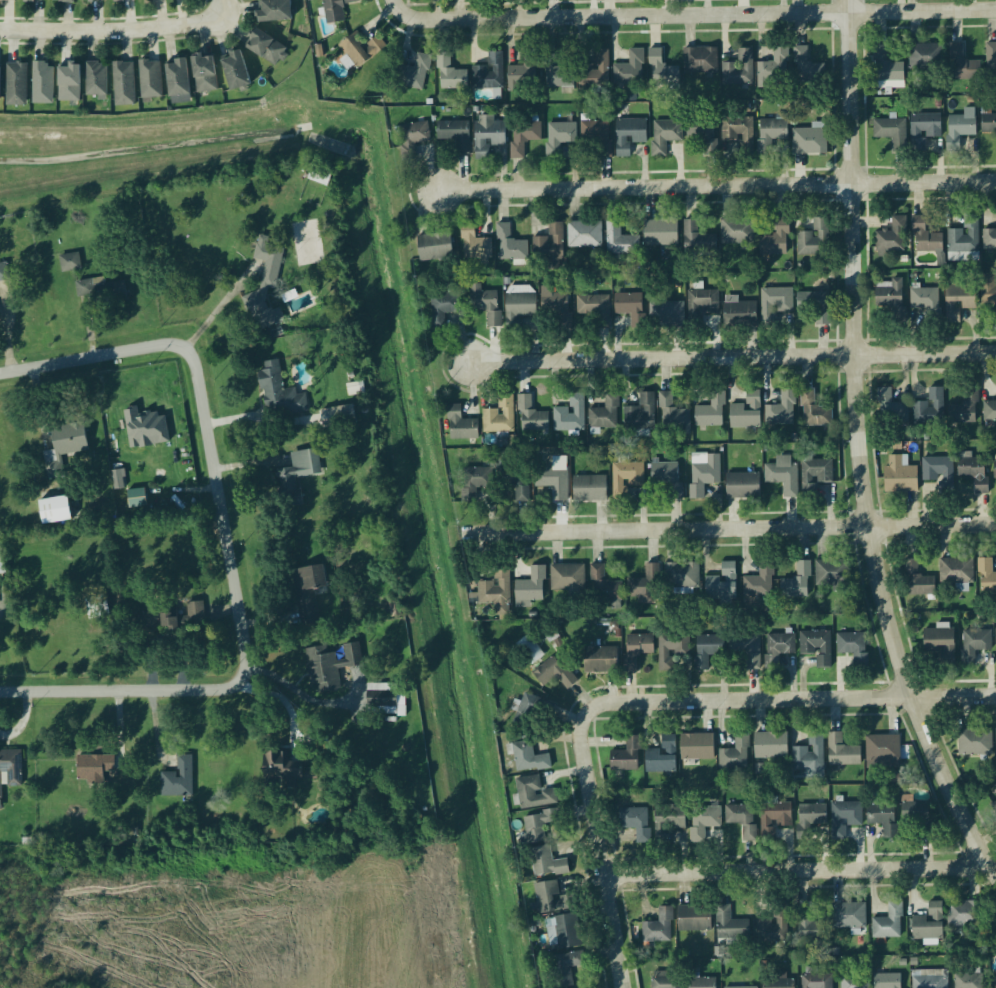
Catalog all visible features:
building: (7, 0)
building: (91, 0)
building: (149, 0)
building: (32, 1)
building: (62, 1)
building: (121, 1)
road: (398, 6)
road: (222, 9)
building: (335, 10)
building: (273, 11)
road: (698, 14)
road: (112, 31)
building: (265, 49)
building: (355, 51)
building: (925, 57)
building: (700, 61)
building: (990, 61)
building: (963, 66)
building: (807, 68)
building: (774, 69)
building: (595, 70)
building: (629, 70)
building: (739, 70)
building: (887, 70)
building: (660, 71)
building: (233, 72)
building: (559, 72)
building: (413, 74)
building: (488, 74)
building: (203, 75)
building: (521, 77)
building: (175, 78)
building: (96, 79)
building: (150, 80)
building: (451, 80)
building: (42, 84)
building: (68, 84)
building: (123, 84)
building: (15, 85)
building: (0, 87)
building: (988, 123)
building: (925, 128)
building: (960, 129)
building: (702, 133)
building: (737, 133)
building: (891, 133)
building: (454, 135)
building: (770, 135)
building: (628, 136)
building: (559, 137)
building: (664, 137)
building: (487, 138)
building: (522, 138)
building: (412, 139)
building: (596, 140)
building: (809, 142)
building: (319, 176)
road: (716, 186)
building: (736, 233)
building: (660, 234)
building: (584, 236)
building: (892, 237)
building: (813, 239)
building: (925, 239)
building: (696, 240)
building: (775, 240)
building: (989, 240)
building: (963, 241)
building: (620, 242)
building: (473, 245)
building: (548, 245)
building: (509, 246)
building: (434, 248)
building: (69, 263)
building: (3, 273)
building: (266, 281)
building: (102, 293)
building: (888, 295)
building: (988, 296)
building: (959, 298)
building: (924, 299)
building: (553, 304)
building: (484, 305)
building: (700, 305)
building: (774, 305)
building: (813, 306)
building: (629, 307)
building: (594, 308)
building: (443, 309)
building: (518, 309)
building: (739, 313)
building: (666, 316)
road: (730, 356)
building: (279, 394)
building: (965, 408)
building: (929, 409)
building: (781, 411)
building: (891, 411)
building: (989, 412)
building: (710, 413)
building: (813, 413)
building: (605, 414)
building: (745, 414)
building: (639, 415)
building: (569, 416)
building: (671, 416)
building: (499, 417)
building: (530, 417)
building: (337, 418)
building: (460, 425)
building: (64, 445)
road: (859, 449)
building: (300, 468)
building: (935, 468)
building: (994, 471)
building: (973, 473)
building: (703, 474)
building: (814, 476)
building: (899, 476)
building: (667, 478)
building: (625, 479)
building: (782, 479)
building: (118, 480)
building: (552, 482)
building: (474, 483)
building: (515, 483)
building: (741, 486)
building: (288, 488)
building: (589, 488)
building: (137, 499)
building: (55, 511)
road: (732, 529)
road: (225, 540)
building: (1, 565)
building: (955, 572)
building: (831, 575)
building: (681, 576)
building: (986, 577)
building: (567, 578)
building: (917, 581)
building: (759, 582)
building: (797, 582)
building: (645, 583)
building: (721, 585)
building: (604, 587)
building: (530, 588)
building: (495, 592)
building: (307, 593)
building: (95, 607)
building: (171, 618)
building: (995, 638)
building: (937, 641)
building: (973, 645)
building: (816, 647)
building: (746, 648)
building: (853, 648)
building: (637, 649)
building: (777, 649)
building: (671, 650)
building: (707, 650)
building: (599, 660)
building: (330, 666)
building: (553, 674)
road: (305, 695)
road: (791, 699)
building: (381, 700)
building: (527, 711)
building: (974, 743)
building: (770, 746)
building: (696, 747)
building: (881, 748)
building: (841, 751)
building: (809, 754)
building: (735, 755)
building: (625, 757)
building: (661, 757)
building: (528, 759)
building: (279, 766)
building: (92, 768)
building: (10, 769)
building: (178, 779)
building: (534, 794)
building: (705, 818)
building: (809, 818)
building: (882, 818)
building: (916, 818)
building: (773, 819)
building: (844, 819)
building: (741, 820)
building: (667, 822)
building: (635, 823)
building: (538, 825)
road: (600, 848)
building: (546, 863)
road: (797, 869)
building: (550, 898)
building: (963, 914)
building: (847, 916)
building: (693, 919)
building: (887, 924)
building: (927, 924)
building: (730, 925)
building: (772, 926)
building: (808, 926)
building: (658, 928)
building: (564, 932)
building: (565, 968)
building: (666, 980)
building: (816, 981)
building: (887, 981)
building: (967, 981)
building: (995, 981)
building: (777, 982)
building: (853, 982)
building: (929, 982)
building: (703, 983)

